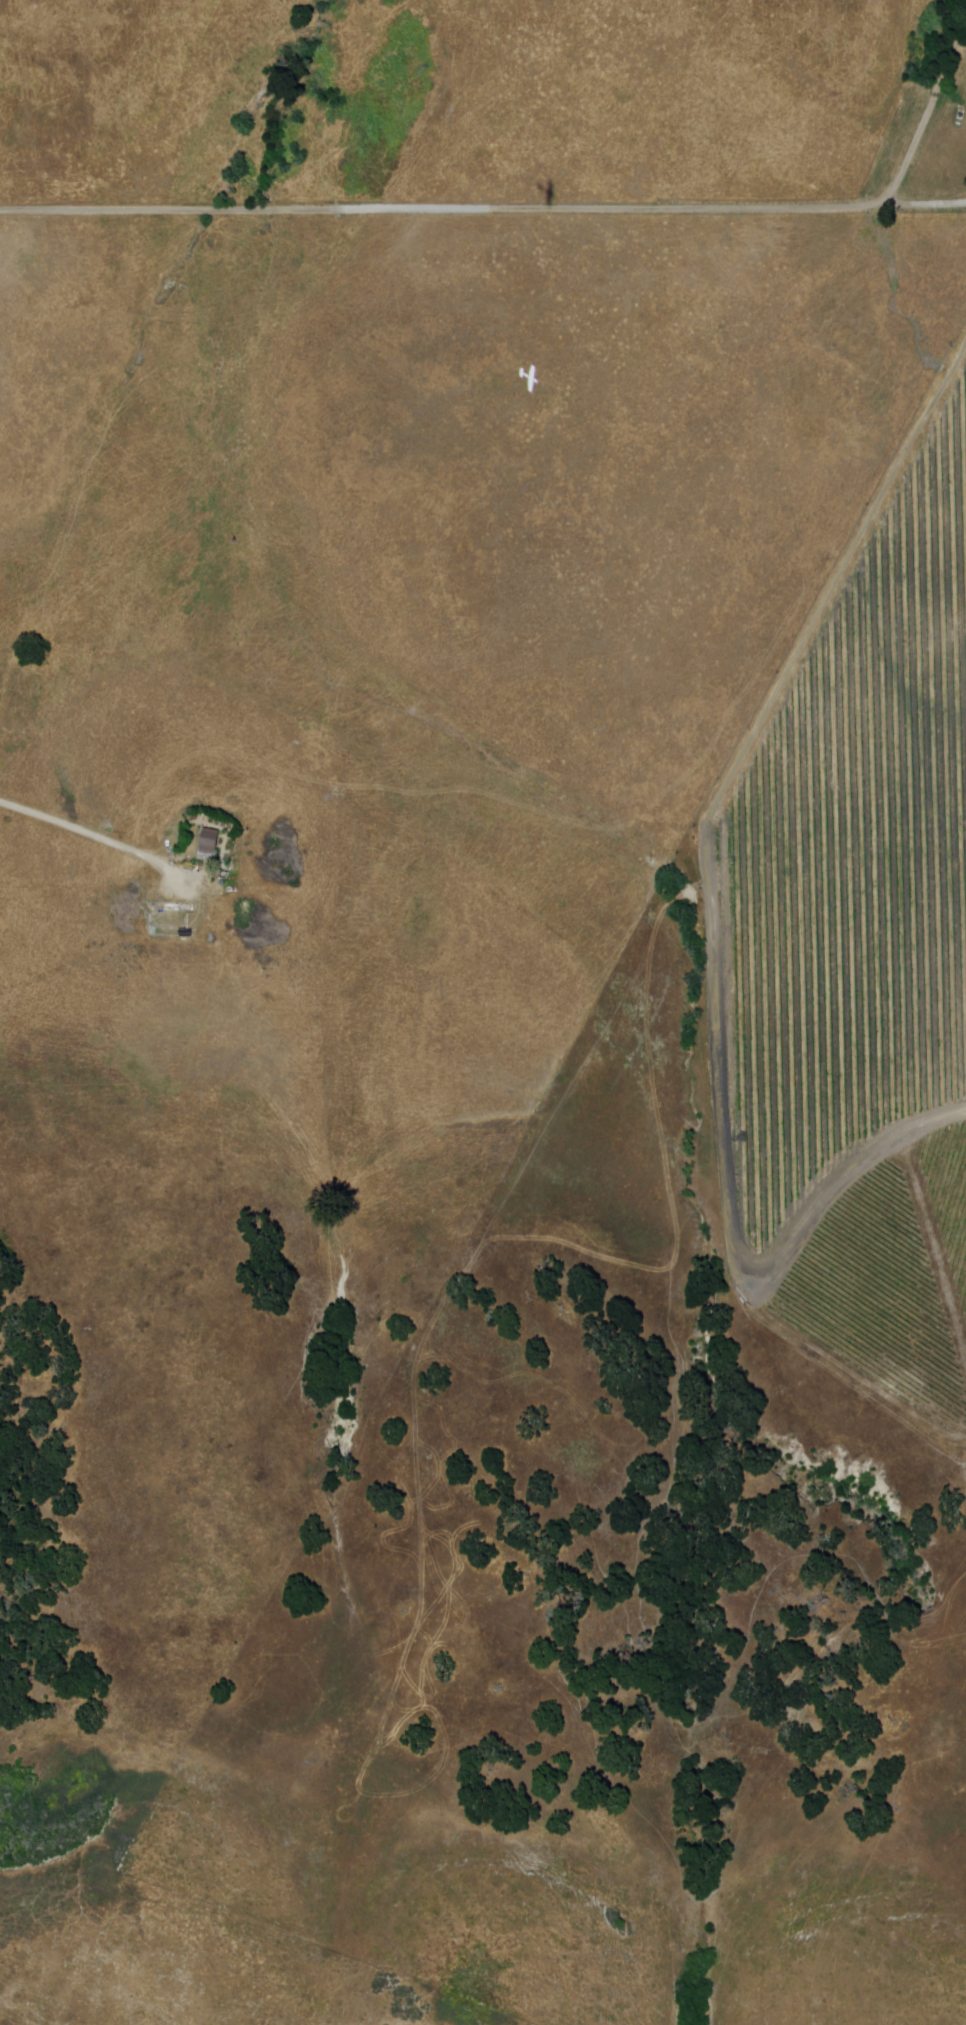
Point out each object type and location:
road: (483, 209)
road: (81, 833)
building: (208, 844)
road: (712, 929)
building: (184, 934)

